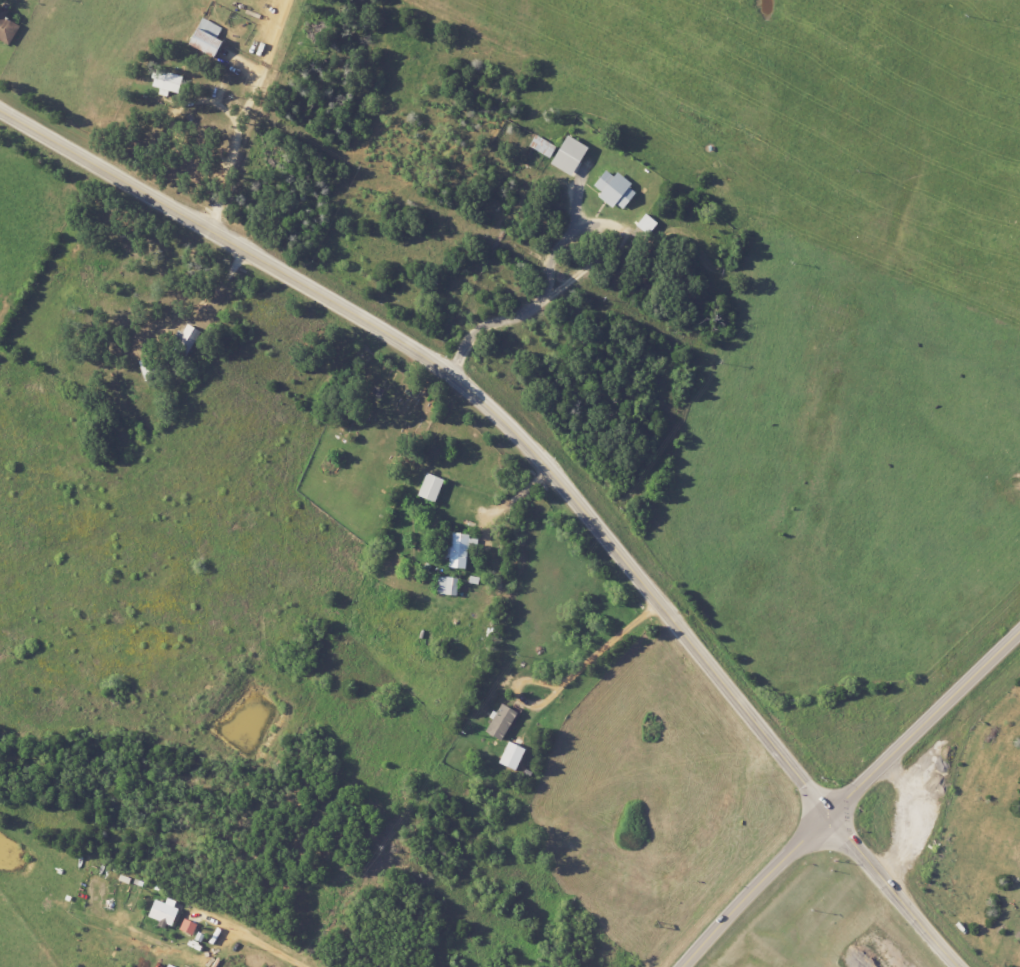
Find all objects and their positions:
building: (7, 27)
building: (207, 39)
building: (168, 81)
road: (244, 113)
building: (543, 146)
building: (572, 156)
building: (616, 190)
building: (648, 224)
road: (582, 270)
road: (210, 359)
building: (148, 369)
park: (368, 447)
road: (544, 463)
building: (432, 488)
road: (501, 505)
building: (460, 551)
building: (449, 586)
building: (502, 722)
building: (514, 756)
road: (848, 794)
building: (165, 912)
building: (188, 926)
road: (252, 940)

